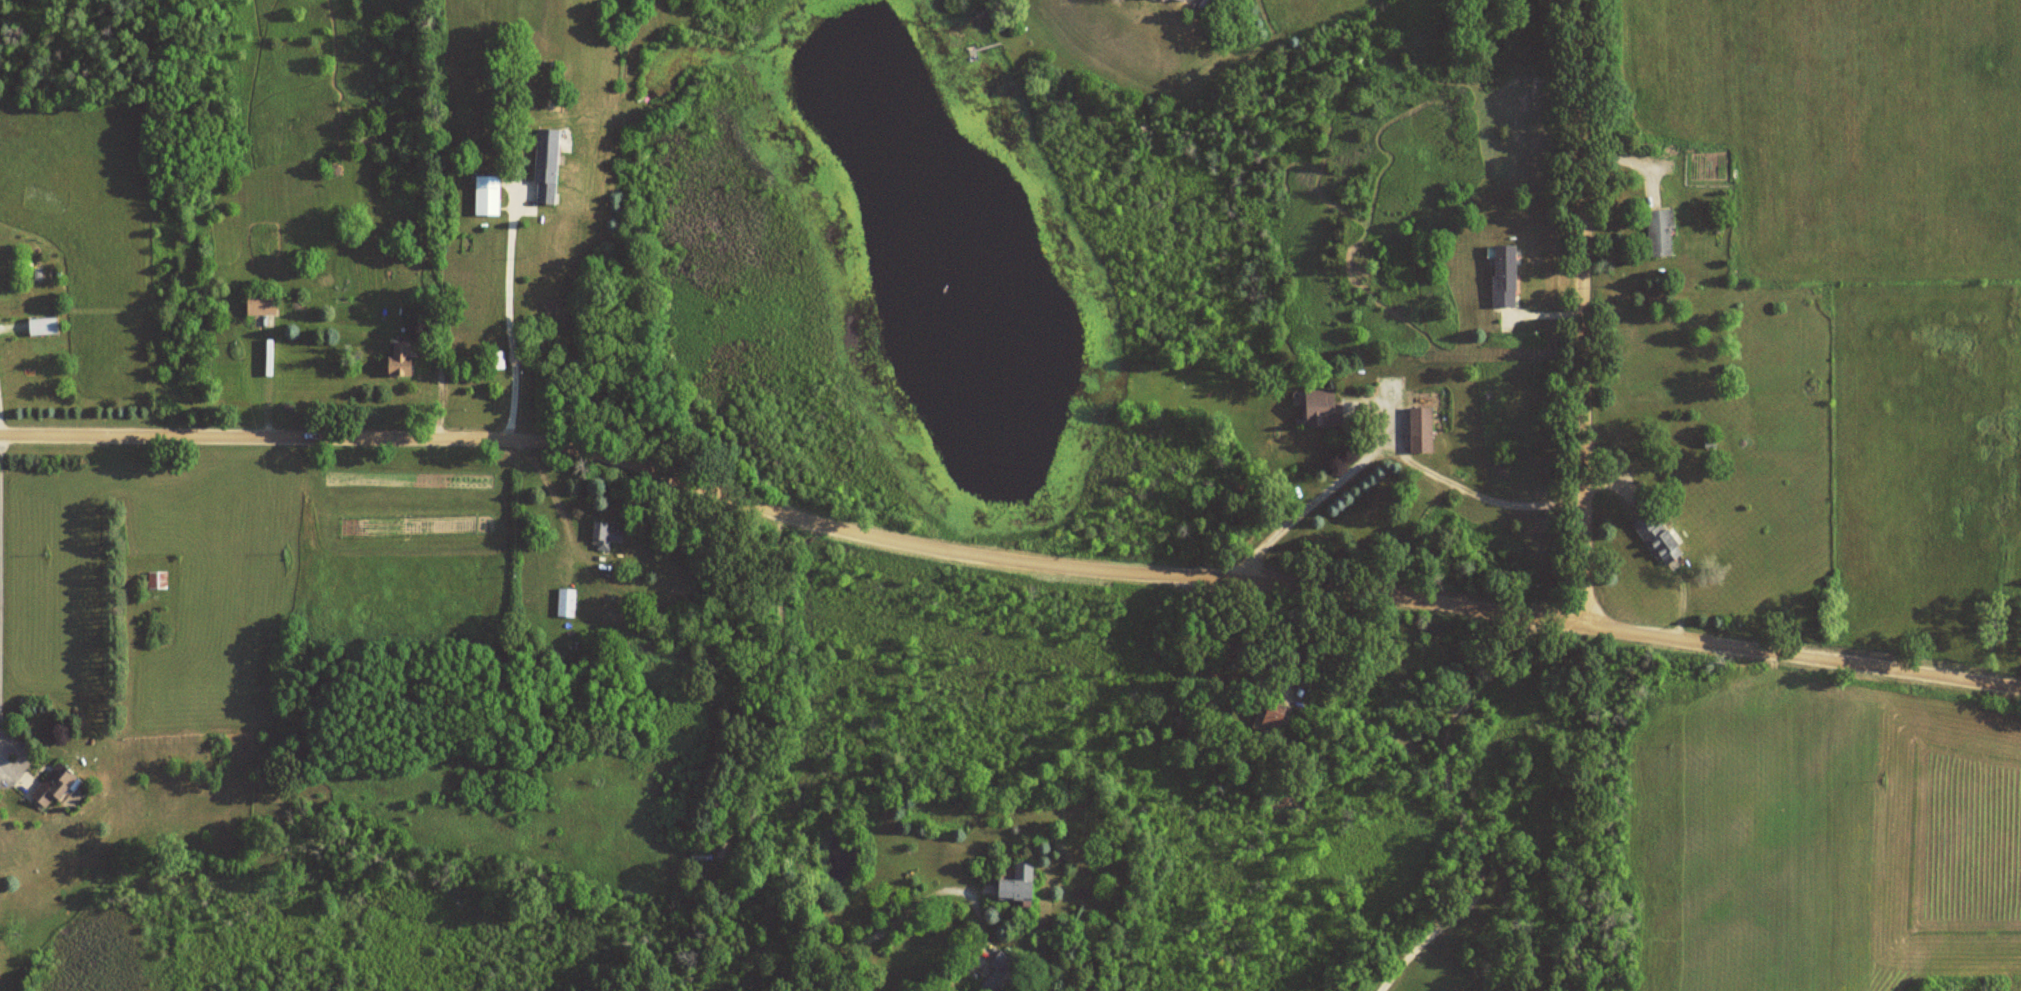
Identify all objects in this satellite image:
building: (542, 167)
building: (484, 196)
building: (1661, 233)
building: (1501, 275)
building: (260, 303)
road: (1582, 312)
road: (508, 318)
building: (37, 327)
building: (401, 360)
building: (492, 360)
building: (1322, 407)
building: (1422, 430)
building: (598, 536)
building: (1652, 539)
road: (1007, 559)
building: (158, 580)
building: (560, 603)
building: (1270, 716)
road: (18, 755)
building: (58, 785)
building: (1023, 884)
building: (997, 973)

